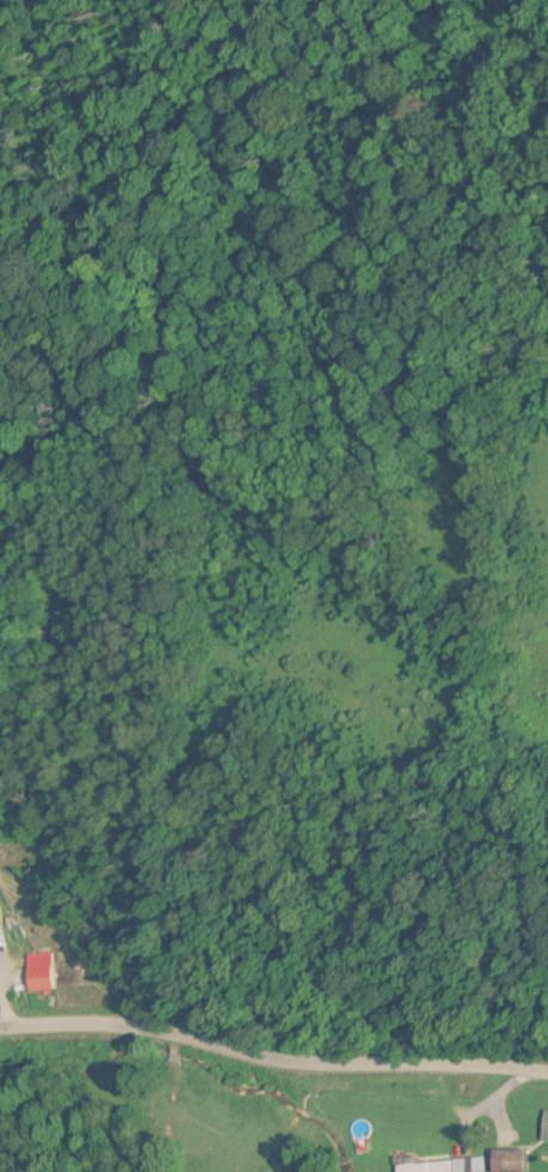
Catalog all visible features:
building: (38, 978)
road: (272, 1056)
building: (544, 1127)
building: (509, 1160)

